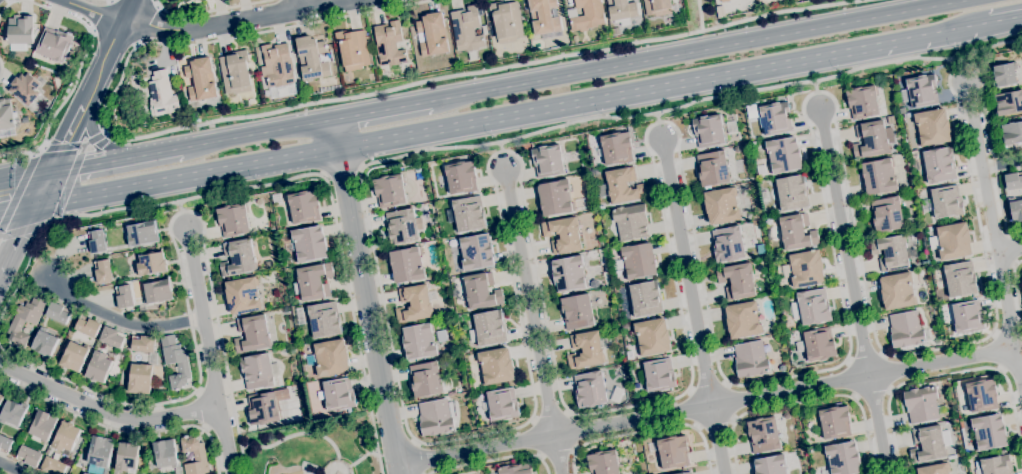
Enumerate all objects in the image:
road: (105, 0)
building: (199, 0)
building: (724, 1)
road: (108, 2)
road: (153, 3)
road: (302, 4)
building: (752, 4)
building: (657, 7)
road: (91, 11)
road: (209, 11)
building: (622, 11)
building: (588, 15)
road: (699, 15)
road: (101, 16)
building: (544, 17)
road: (1006, 19)
road: (235, 20)
road: (143, 22)
building: (506, 22)
building: (20, 30)
building: (467, 30)
building: (484, 30)
road: (92, 31)
building: (433, 35)
road: (915, 39)
road: (137, 42)
building: (389, 44)
building: (54, 45)
building: (353, 50)
road: (700, 51)
road: (108, 54)
building: (472, 55)
building: (312, 58)
road: (919, 58)
road: (960, 61)
road: (80, 62)
building: (277, 65)
road: (0, 68)
building: (236, 73)
building: (1004, 75)
building: (201, 80)
road: (816, 87)
building: (25, 89)
building: (920, 91)
building: (161, 95)
building: (862, 102)
building: (1008, 103)
building: (122, 106)
road: (288, 109)
road: (382, 111)
building: (902, 111)
building: (752, 112)
road: (661, 113)
road: (657, 118)
building: (775, 118)
building: (6, 119)
building: (24, 120)
building: (890, 120)
building: (932, 127)
road: (437, 129)
building: (708, 131)
building: (1012, 133)
road: (103, 134)
road: (257, 134)
building: (889, 135)
road: (94, 137)
road: (66, 138)
building: (870, 140)
road: (74, 146)
road: (500, 146)
road: (42, 148)
building: (616, 148)
road: (34, 154)
building: (784, 155)
road: (117, 161)
building: (547, 161)
building: (938, 165)
road: (1001, 165)
building: (712, 168)
road: (340, 170)
building: (761, 170)
traffic signals: (53, 171)
road: (26, 174)
building: (899, 174)
building: (461, 176)
building: (879, 177)
road: (69, 181)
road: (281, 181)
building: (1013, 181)
building: (622, 186)
road: (43, 188)
building: (389, 191)
road: (17, 193)
building: (792, 193)
building: (765, 196)
building: (555, 198)
building: (944, 203)
road: (1000, 203)
road: (184, 205)
traffic signals: (34, 206)
building: (721, 206)
building: (304, 207)
road: (16, 208)
building: (1016, 211)
building: (469, 214)
building: (887, 214)
road: (52, 219)
building: (233, 220)
building: (631, 222)
road: (40, 226)
building: (402, 226)
road: (19, 231)
building: (797, 232)
building: (142, 234)
building: (563, 235)
road: (993, 236)
road: (16, 239)
building: (951, 241)
building: (97, 242)
building: (309, 244)
building: (727, 244)
road: (1014, 249)
building: (476, 252)
road: (1009, 252)
building: (891, 253)
building: (238, 258)
building: (638, 260)
building: (152, 264)
road: (179, 265)
building: (407, 265)
building: (806, 268)
building: (103, 272)
building: (568, 274)
building: (960, 279)
building: (737, 281)
building: (313, 282)
road: (1017, 285)
road: (852, 290)
building: (157, 291)
building: (481, 291)
building: (897, 291)
building: (243, 295)
building: (124, 297)
road: (365, 297)
building: (645, 299)
building: (414, 303)
road: (692, 305)
building: (811, 307)
building: (577, 312)
building: (58, 313)
building: (967, 317)
building: (26, 319)
road: (123, 319)
building: (325, 319)
building: (742, 320)
road: (532, 322)
building: (88, 326)
building: (490, 328)
building: (907, 330)
building: (252, 334)
road: (990, 334)
building: (112, 337)
building: (652, 337)
building: (419, 342)
building: (44, 343)
building: (142, 344)
building: (817, 345)
road: (1018, 346)
building: (585, 351)
road: (208, 352)
road: (997, 352)
building: (73, 356)
building: (331, 358)
road: (866, 358)
building: (750, 359)
building: (175, 362)
building: (496, 366)
building: (98, 367)
building: (257, 371)
road: (888, 372)
road: (945, 375)
building: (657, 376)
building: (140, 379)
road: (851, 379)
building: (427, 380)
building: (590, 389)
road: (872, 393)
building: (339, 395)
building: (982, 395)
road: (832, 396)
building: (1, 397)
building: (962, 402)
building: (921, 404)
building: (502, 405)
road: (564, 405)
road: (705, 408)
road: (199, 409)
building: (263, 409)
building: (12, 412)
road: (104, 414)
building: (437, 417)
building: (835, 422)
road: (716, 423)
building: (42, 426)
road: (121, 430)
road: (647, 431)
building: (988, 432)
building: (763, 435)
building: (66, 437)
building: (5, 444)
building: (929, 444)
road: (732, 446)
park: (319, 450)
building: (100, 452)
building: (673, 452)
road: (557, 453)
building: (165, 454)
building: (28, 456)
building: (195, 456)
building: (127, 457)
road: (418, 458)
building: (843, 458)
road: (494, 460)
building: (603, 462)
building: (771, 465)
building: (994, 465)
building: (52, 466)
road: (13, 468)
building: (515, 469)
building: (934, 469)
building: (86, 473)
building: (680, 473)
building: (686, 473)

